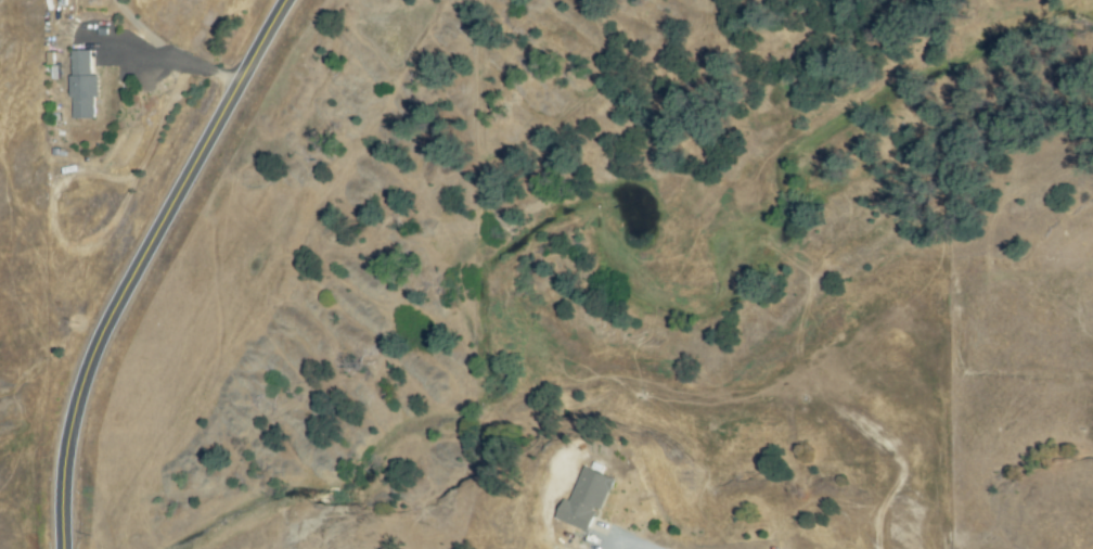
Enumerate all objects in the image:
road: (171, 49)
building: (85, 85)
road: (140, 263)
building: (587, 500)
road: (632, 541)

